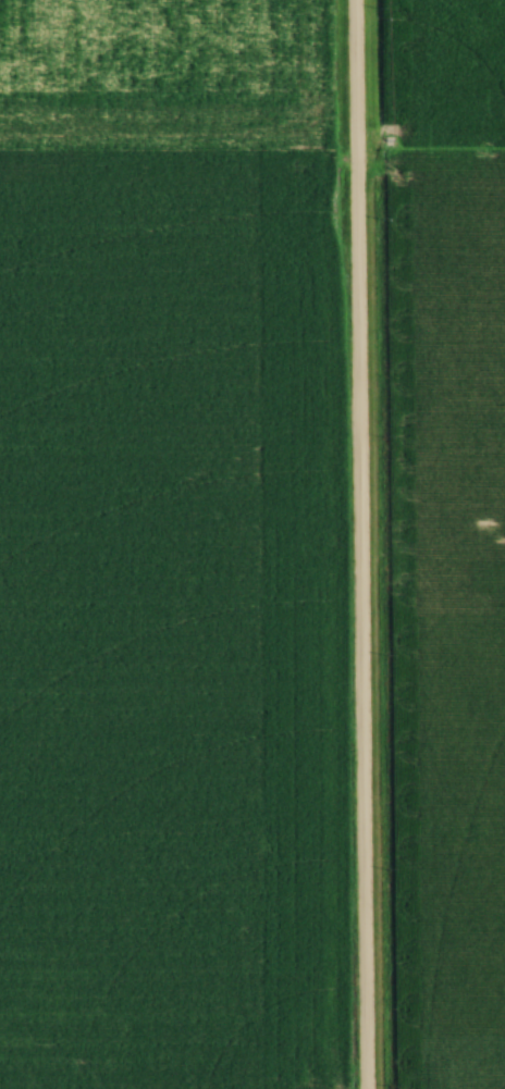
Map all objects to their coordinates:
crop: (446, 76)
road: (357, 544)

